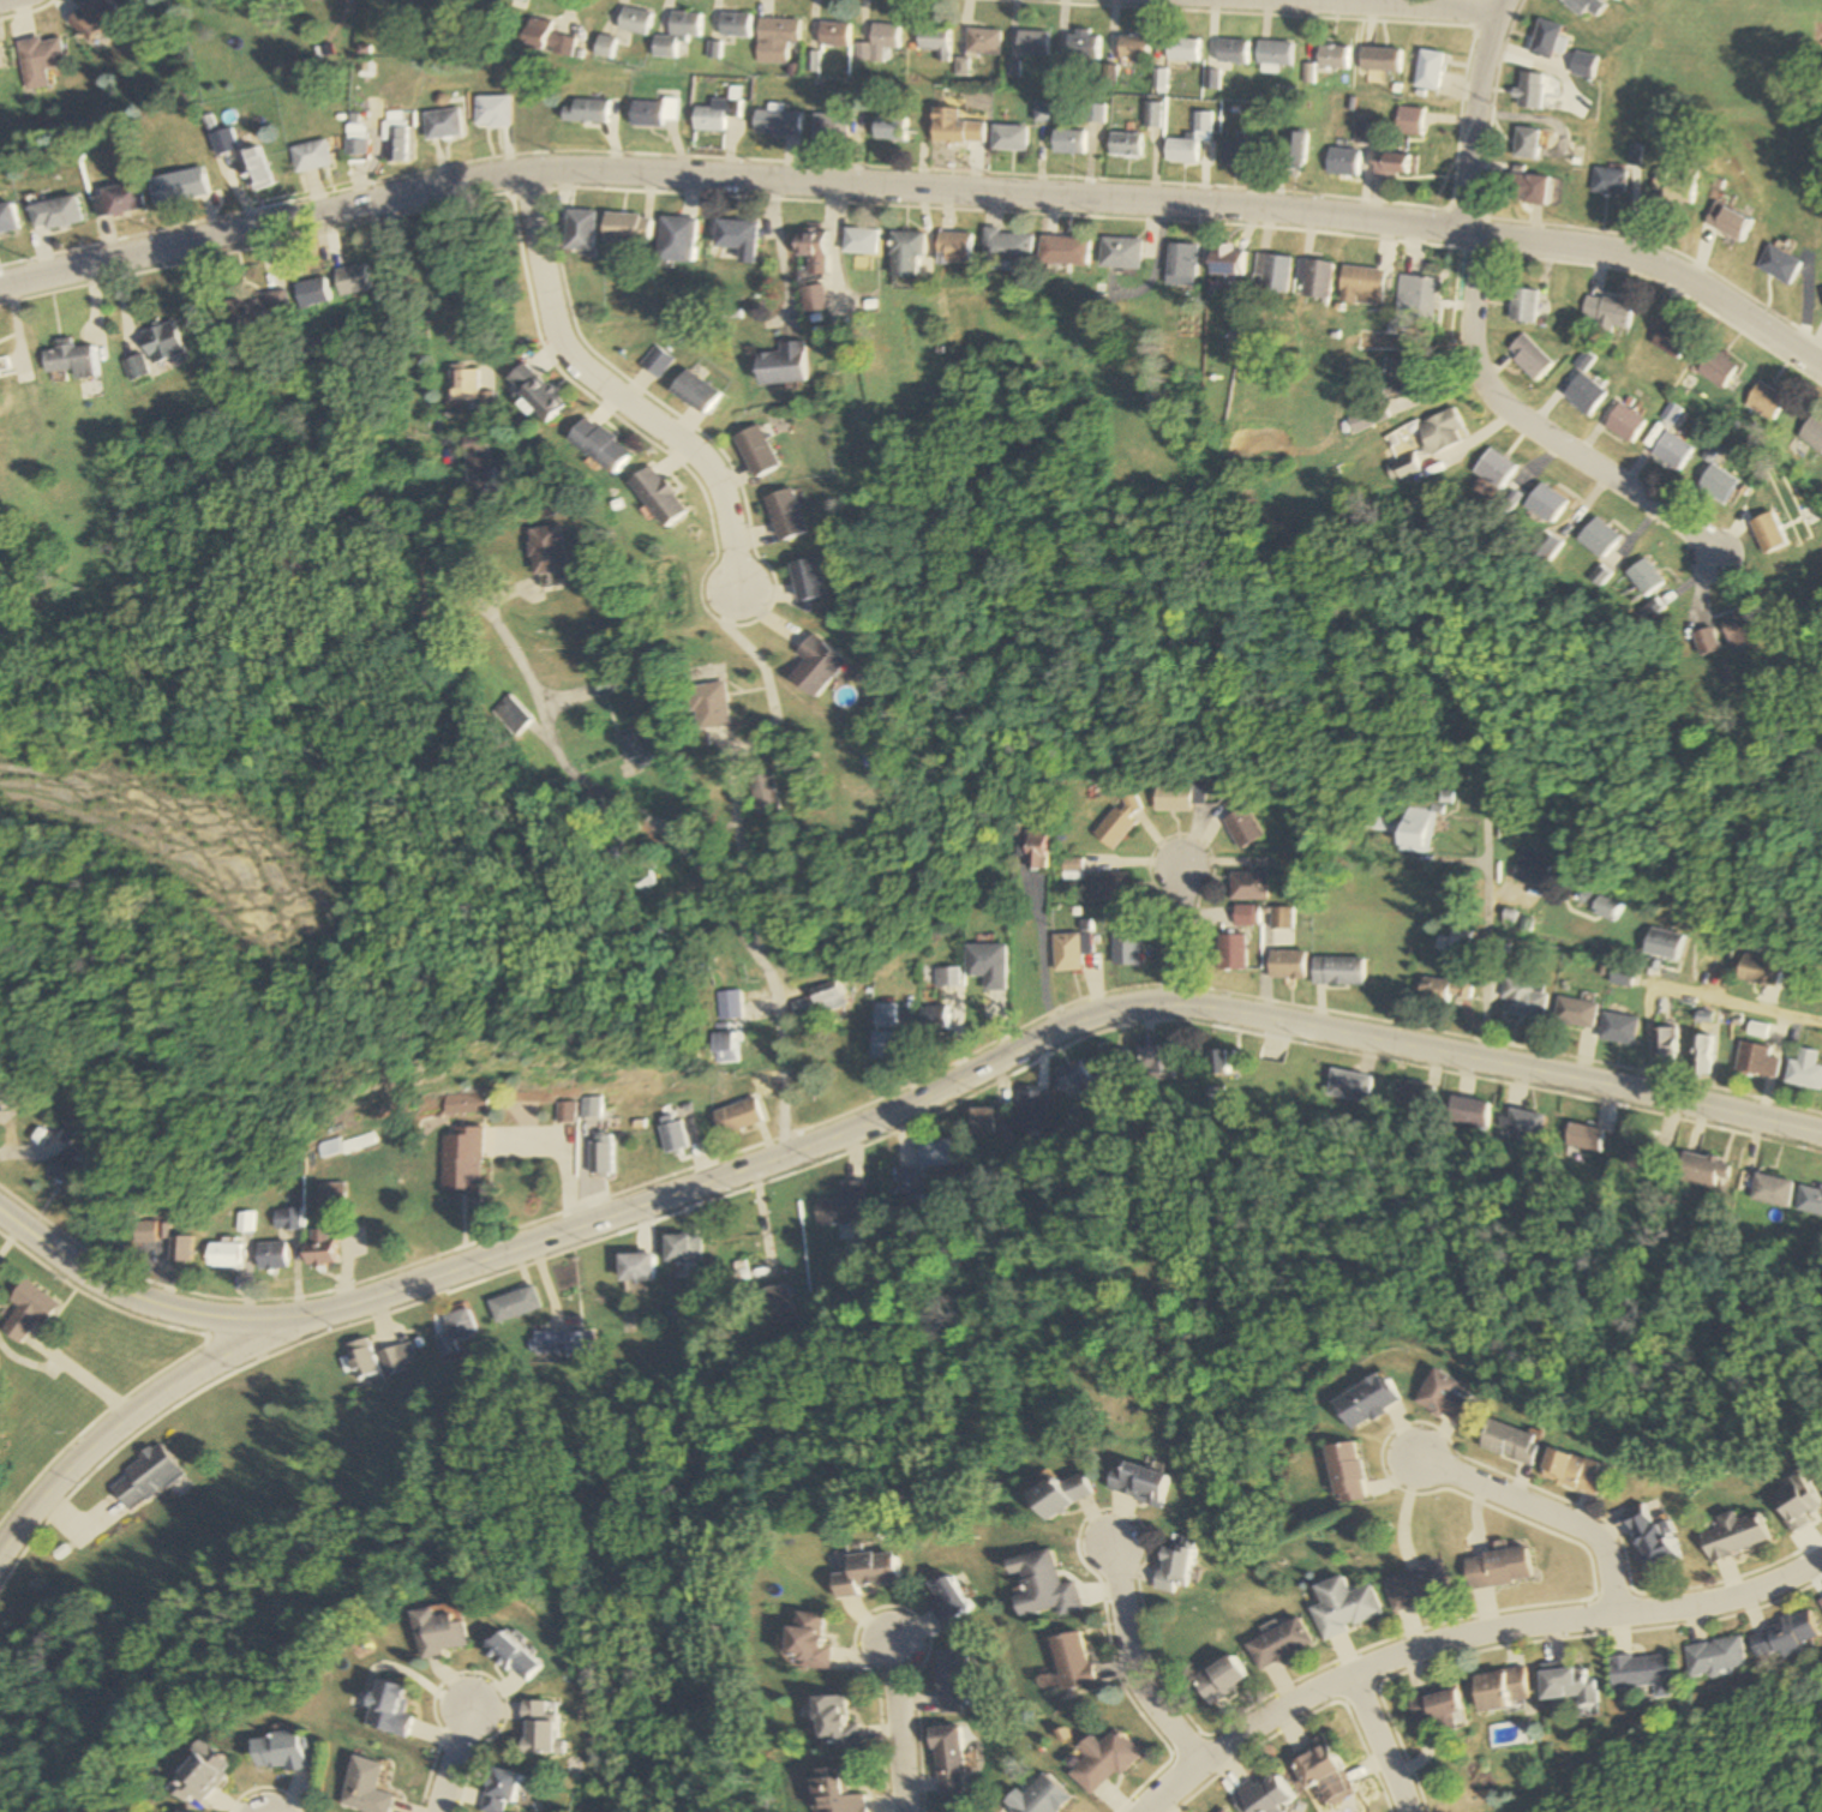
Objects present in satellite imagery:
road: (1376, 6)
road: (1499, 10)
park: (1730, 82)
road: (1475, 125)
road: (921, 188)
park: (501, 264)
road: (617, 392)
road: (1534, 428)
road: (262, 548)
road: (605, 793)
road: (744, 859)
road: (1179, 935)
road: (1487, 941)
road: (1677, 990)
road: (1061, 1032)
road: (157, 1300)
road: (150, 1406)
road: (1541, 1508)
road: (1463, 1634)
road: (1123, 1662)
road: (901, 1728)
road: (1378, 1741)
road: (452, 1758)

